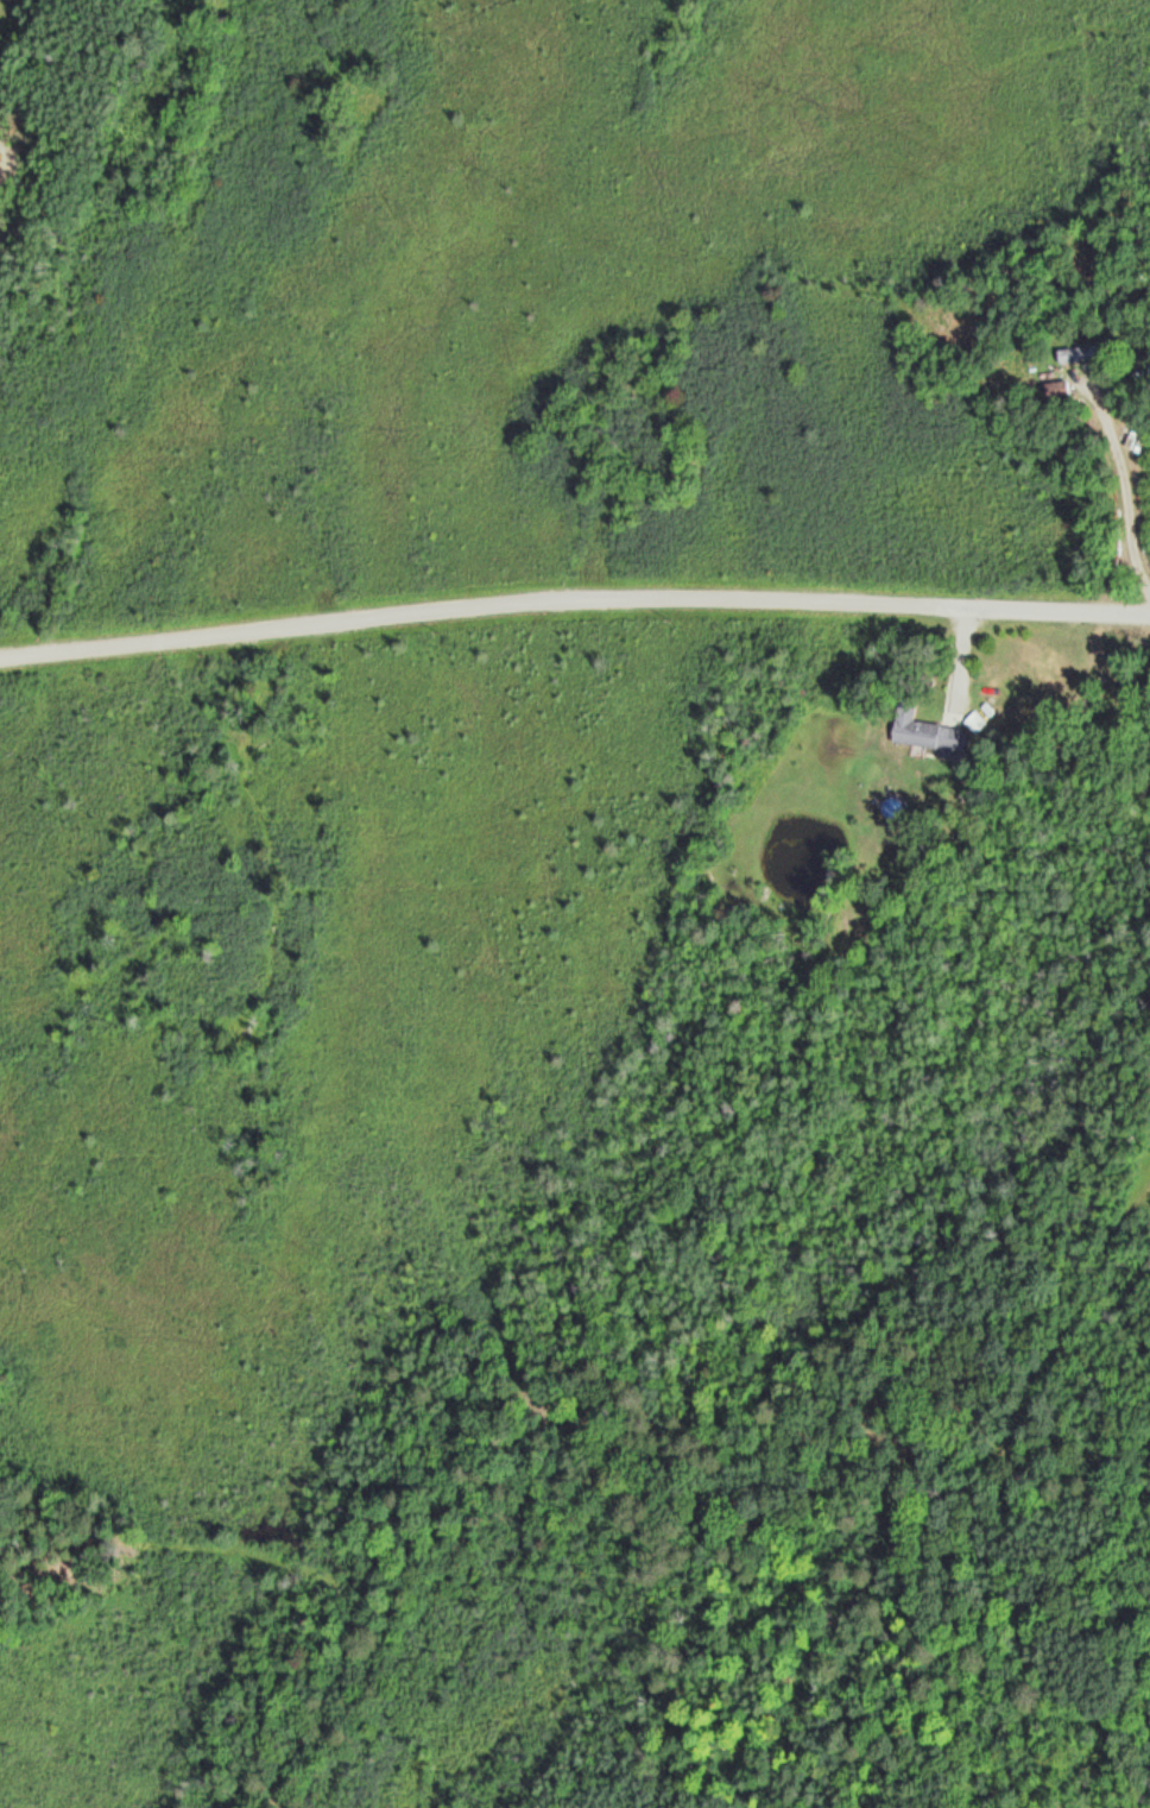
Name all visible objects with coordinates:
building: (1087, 352)
building: (1059, 389)
road: (1125, 499)
road: (573, 600)
building: (924, 733)

